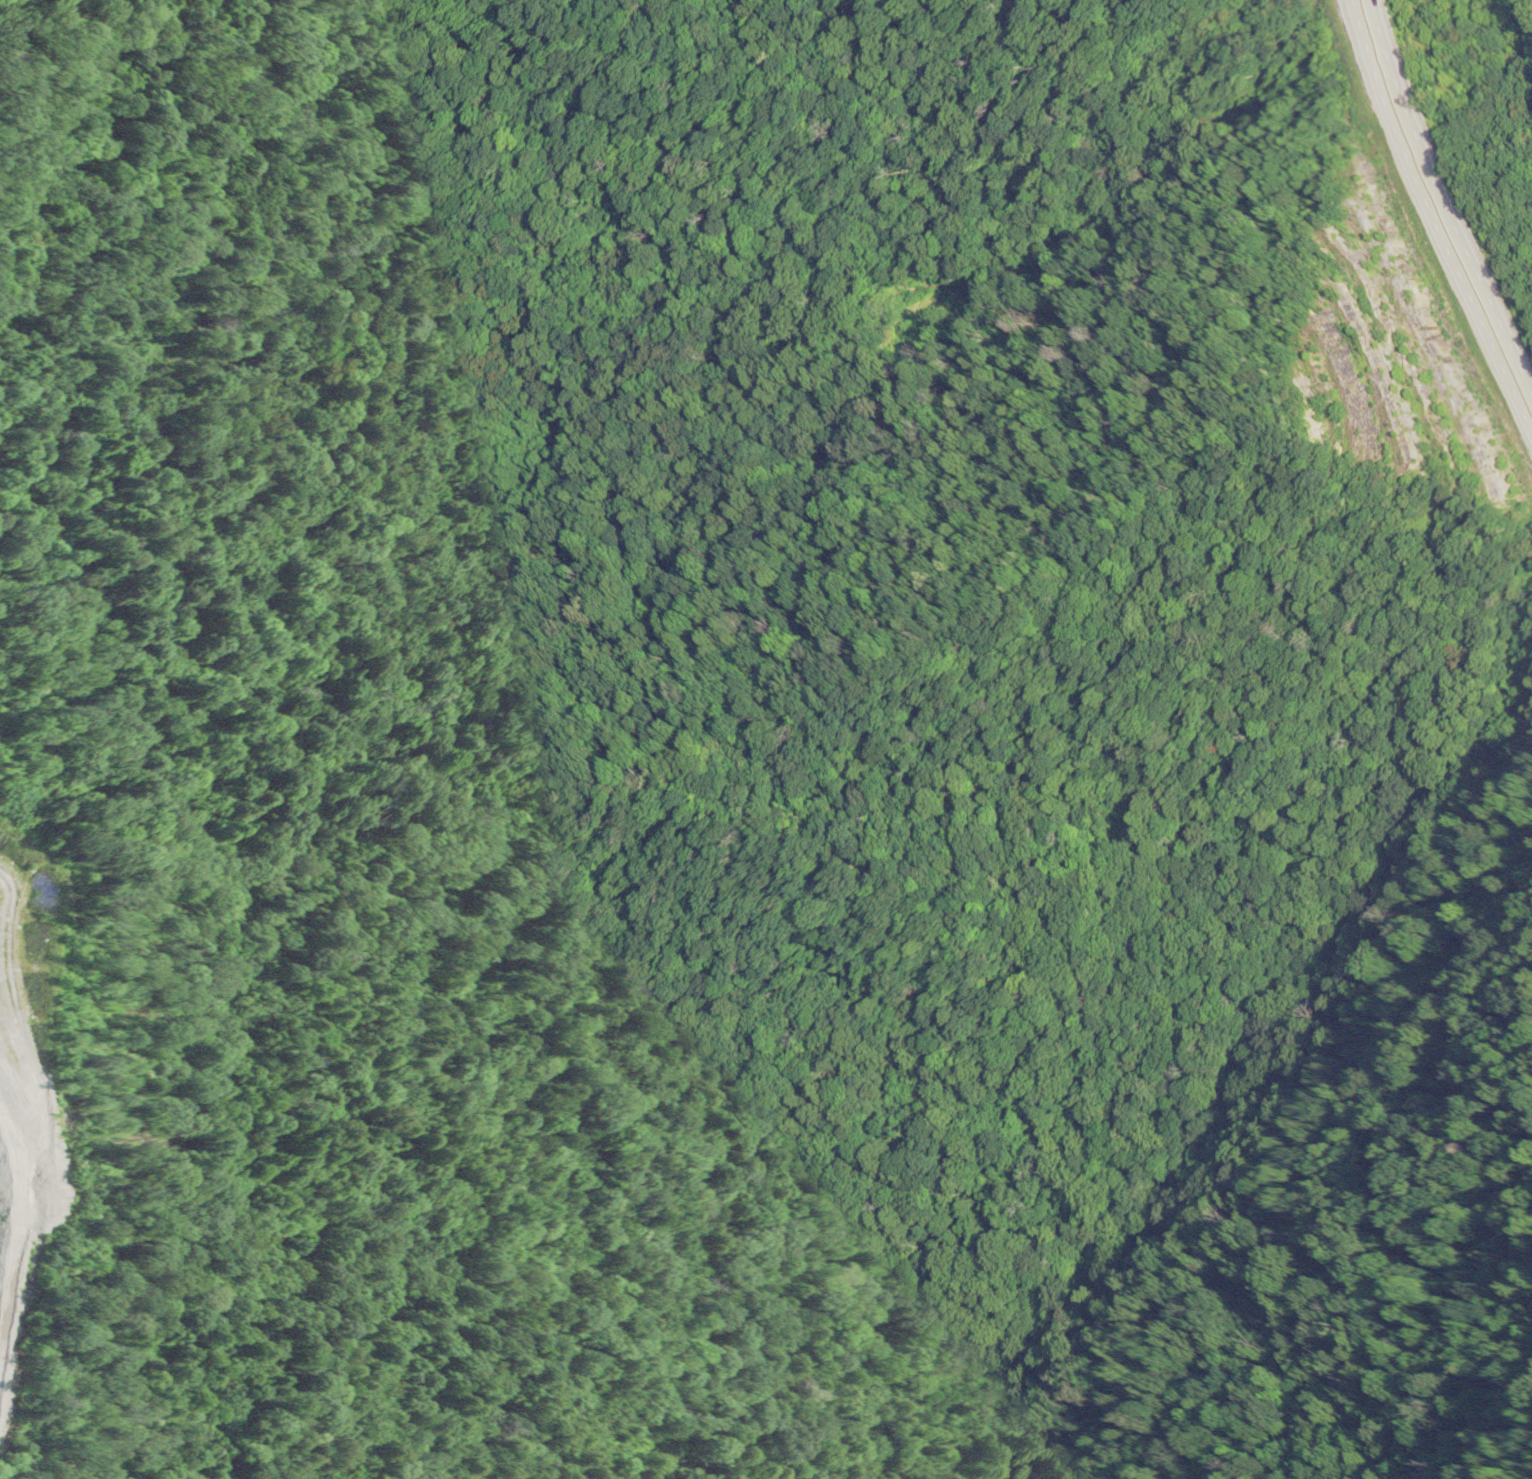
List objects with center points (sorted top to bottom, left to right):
road: (1445, 198)
road: (1432, 220)

